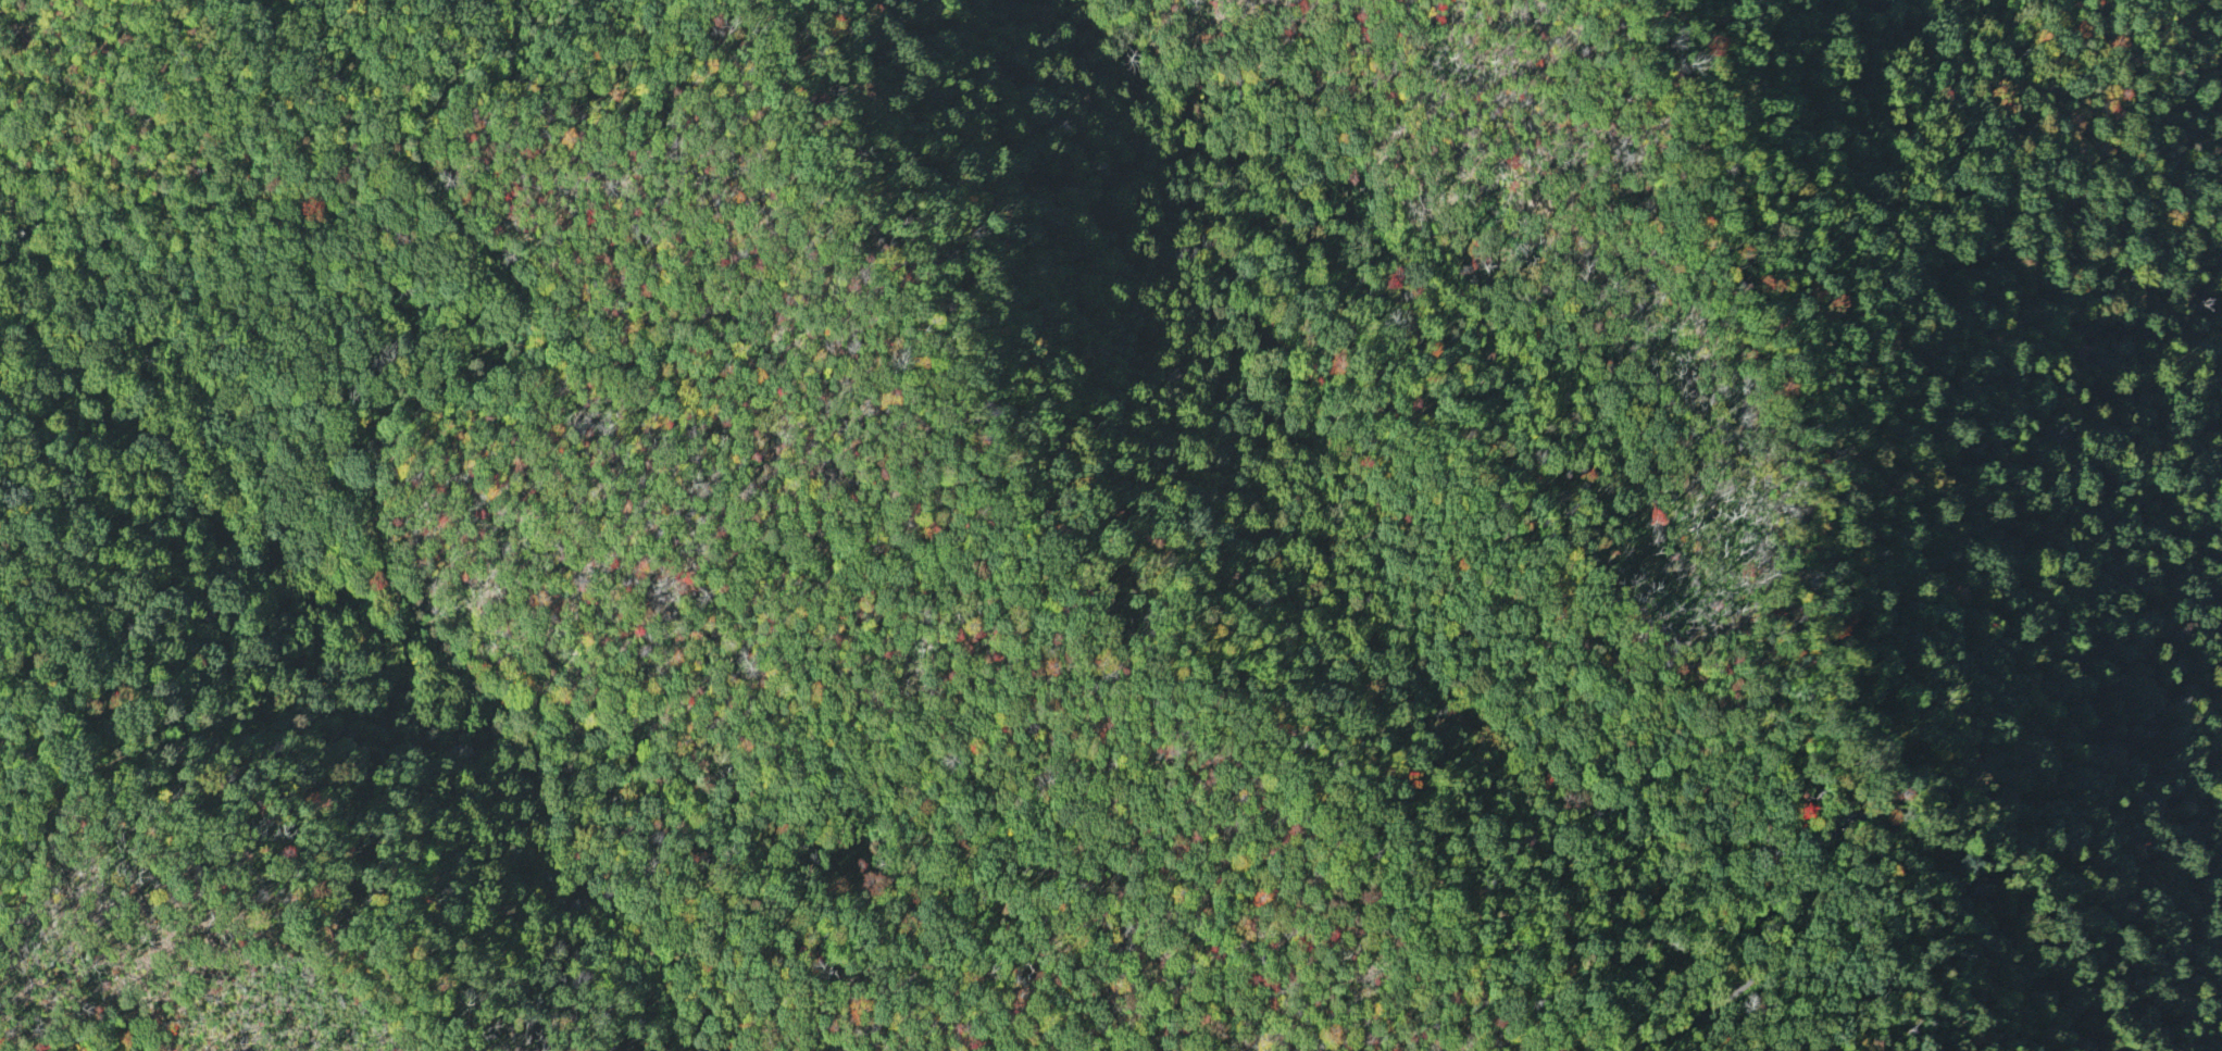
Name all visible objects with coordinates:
road: (403, 597)
road: (1843, 822)
road: (88, 1038)

